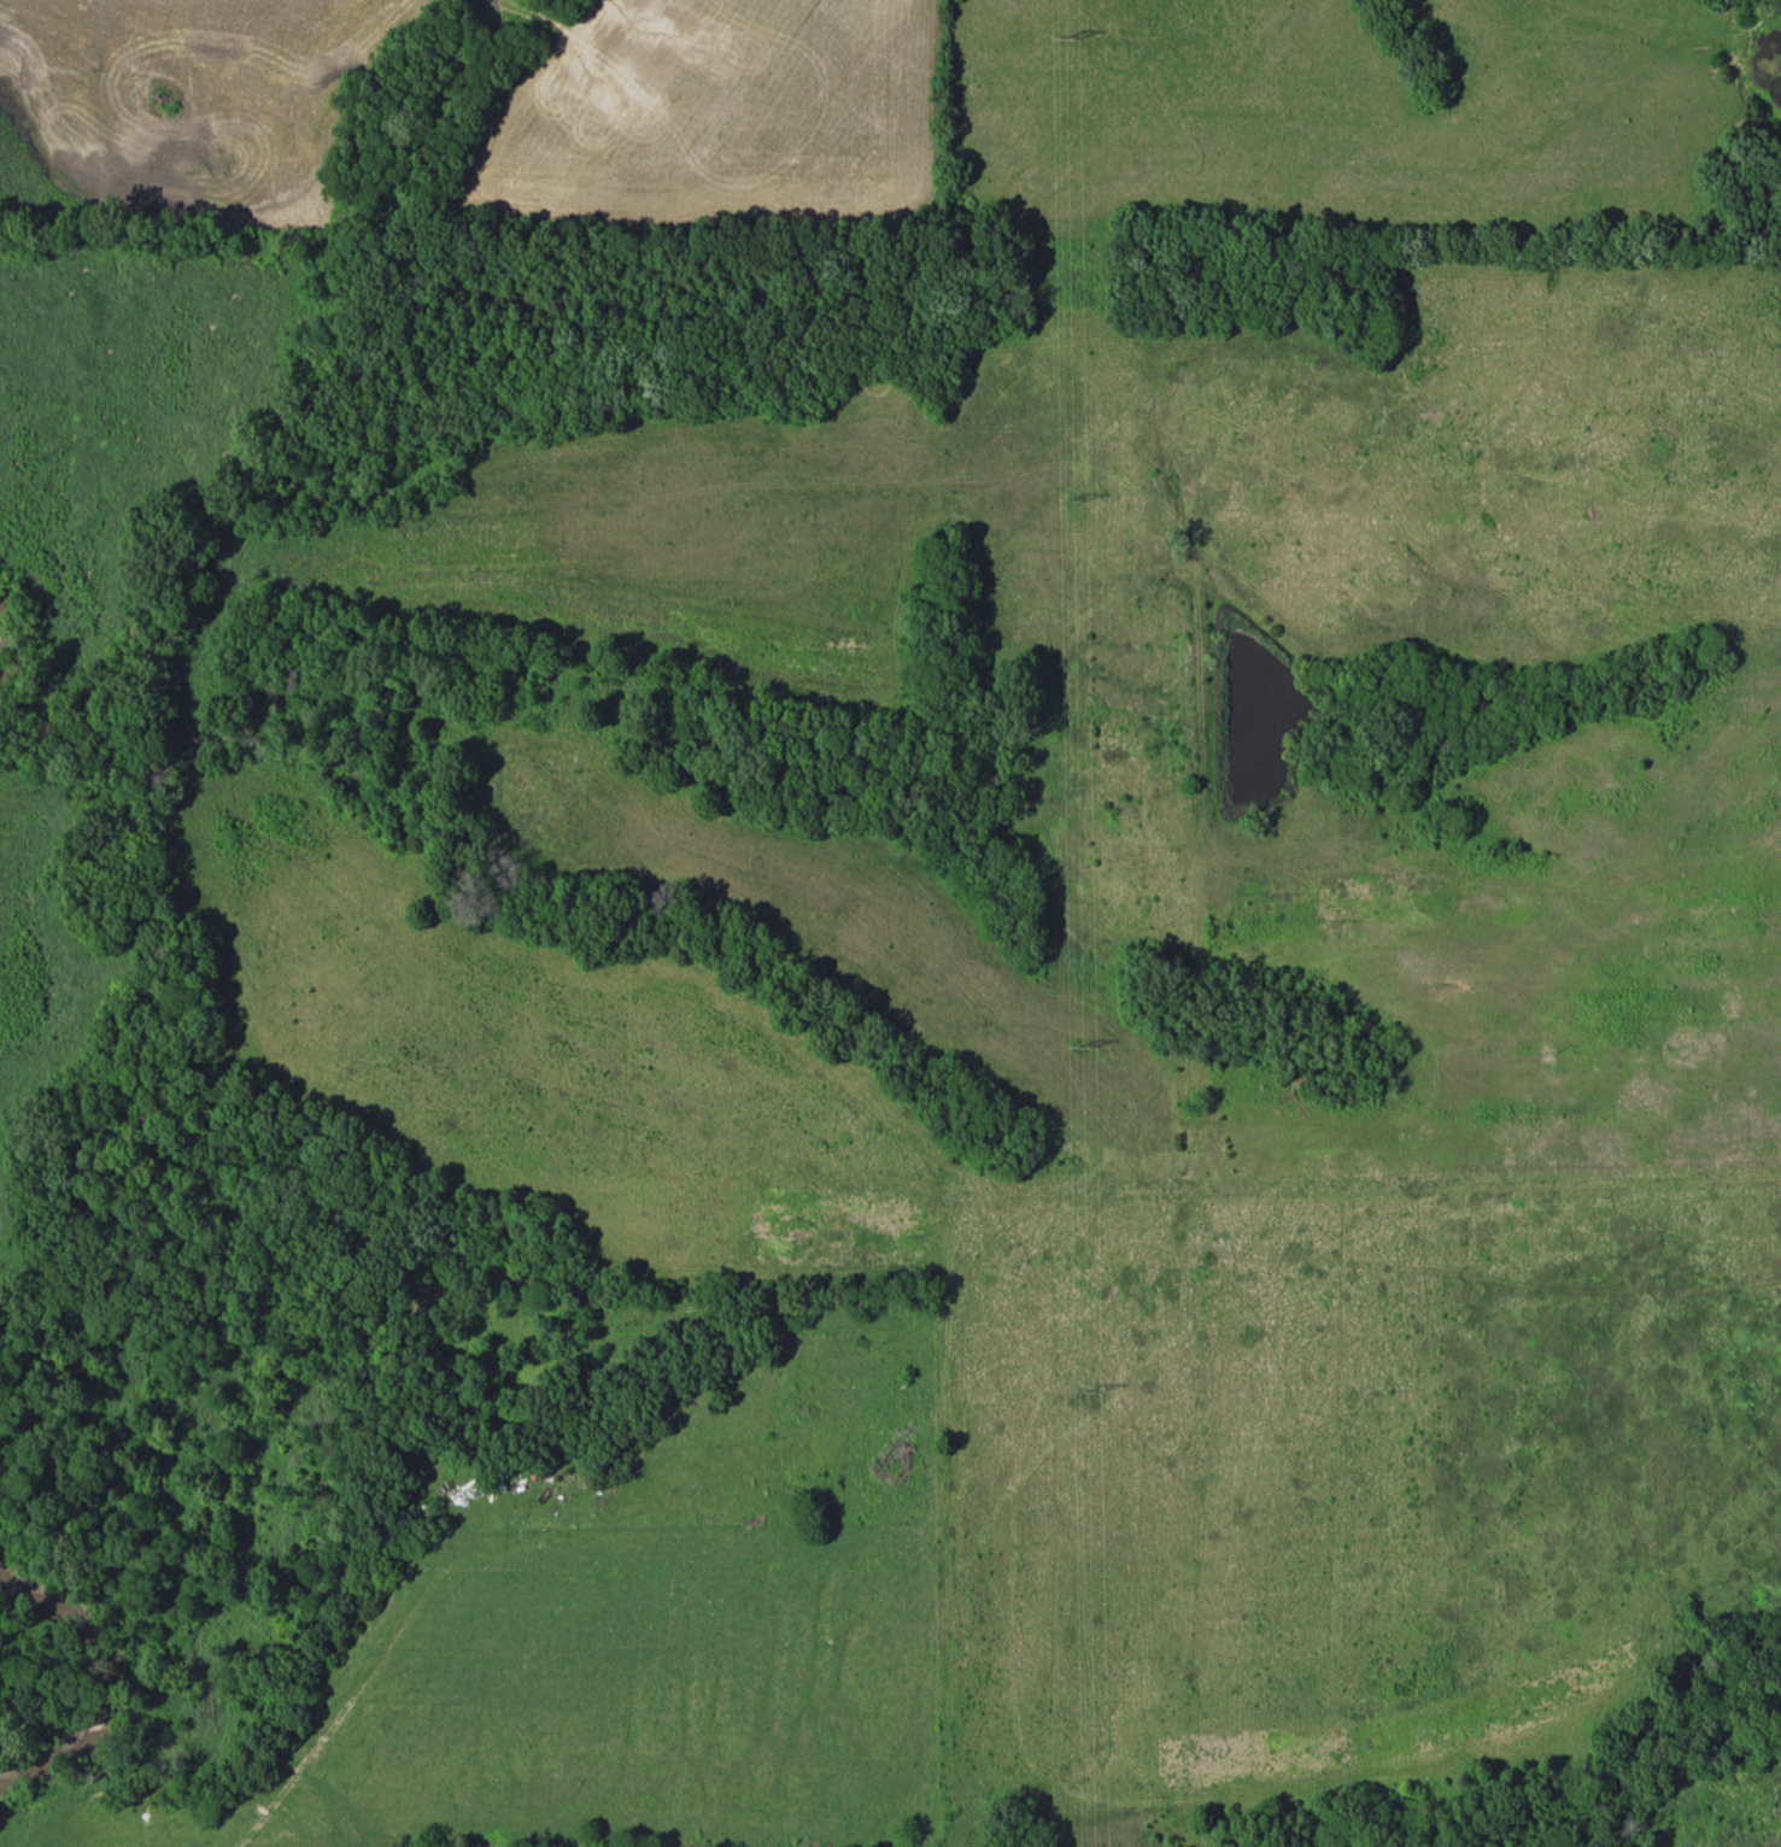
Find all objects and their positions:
power tower: (1064, 40)
power tower: (1070, 504)
power tower: (1084, 1051)
power tower: (1088, 1392)

